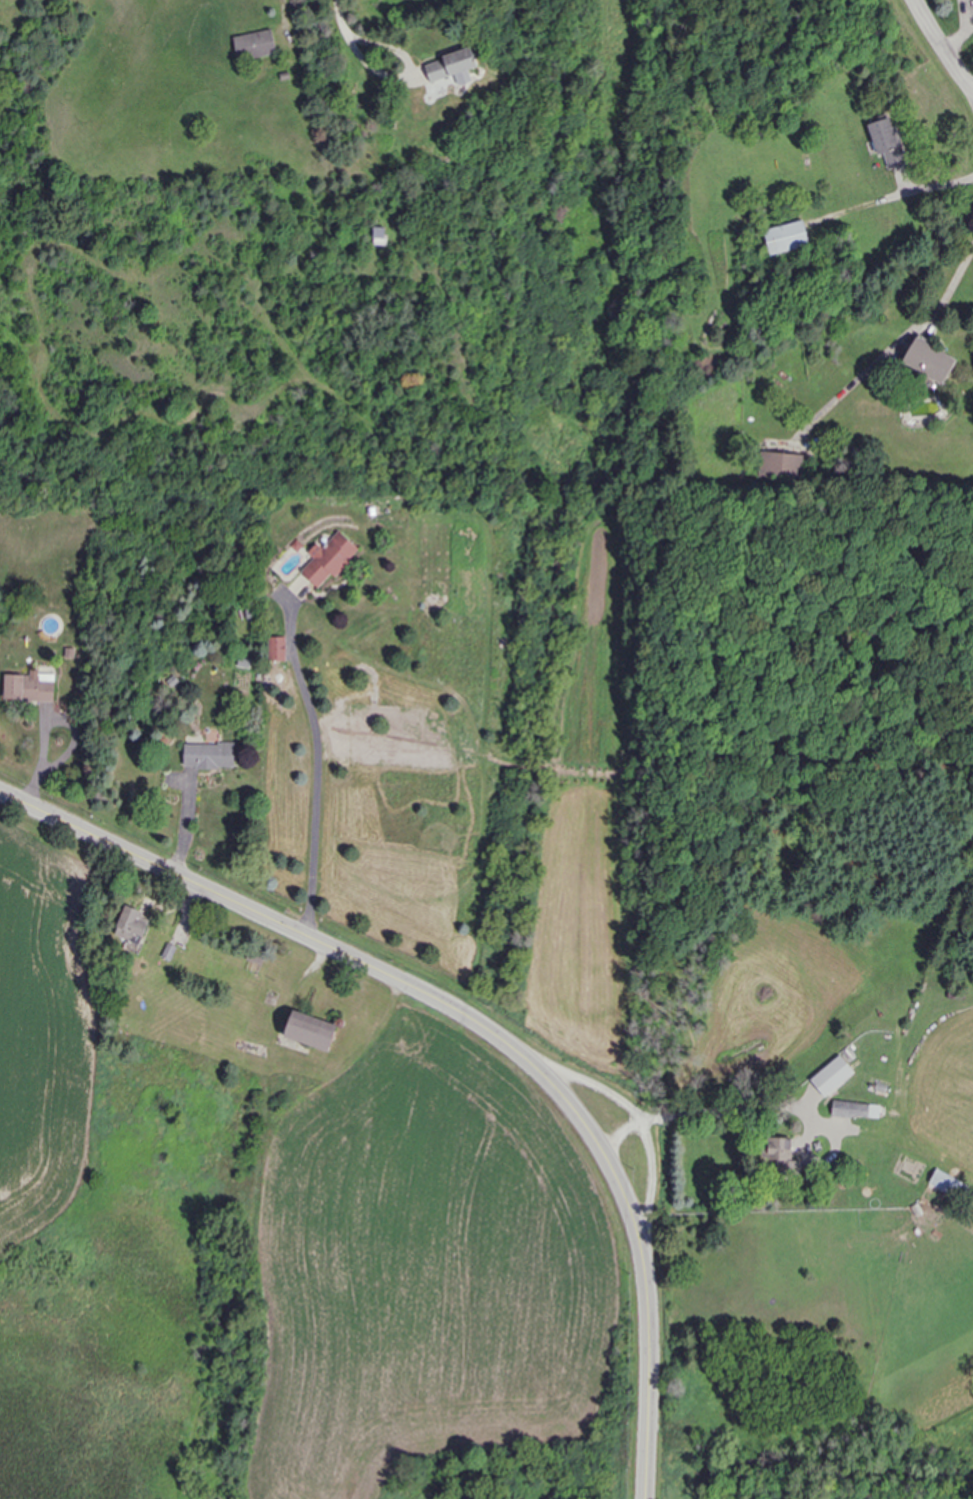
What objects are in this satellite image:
building: (254, 45)
road: (940, 47)
road: (359, 54)
building: (452, 67)
building: (885, 140)
road: (940, 185)
building: (786, 237)
road: (953, 281)
building: (928, 361)
building: (782, 465)
building: (329, 559)
building: (278, 649)
building: (30, 687)
building: (209, 755)
road: (317, 768)
building: (130, 927)
road: (478, 1025)
building: (831, 1075)
road: (593, 1084)
road: (741, 1105)
building: (855, 1110)
road: (620, 1134)
building: (781, 1156)
road: (652, 1180)
building: (948, 1184)
river: (850, 1467)

